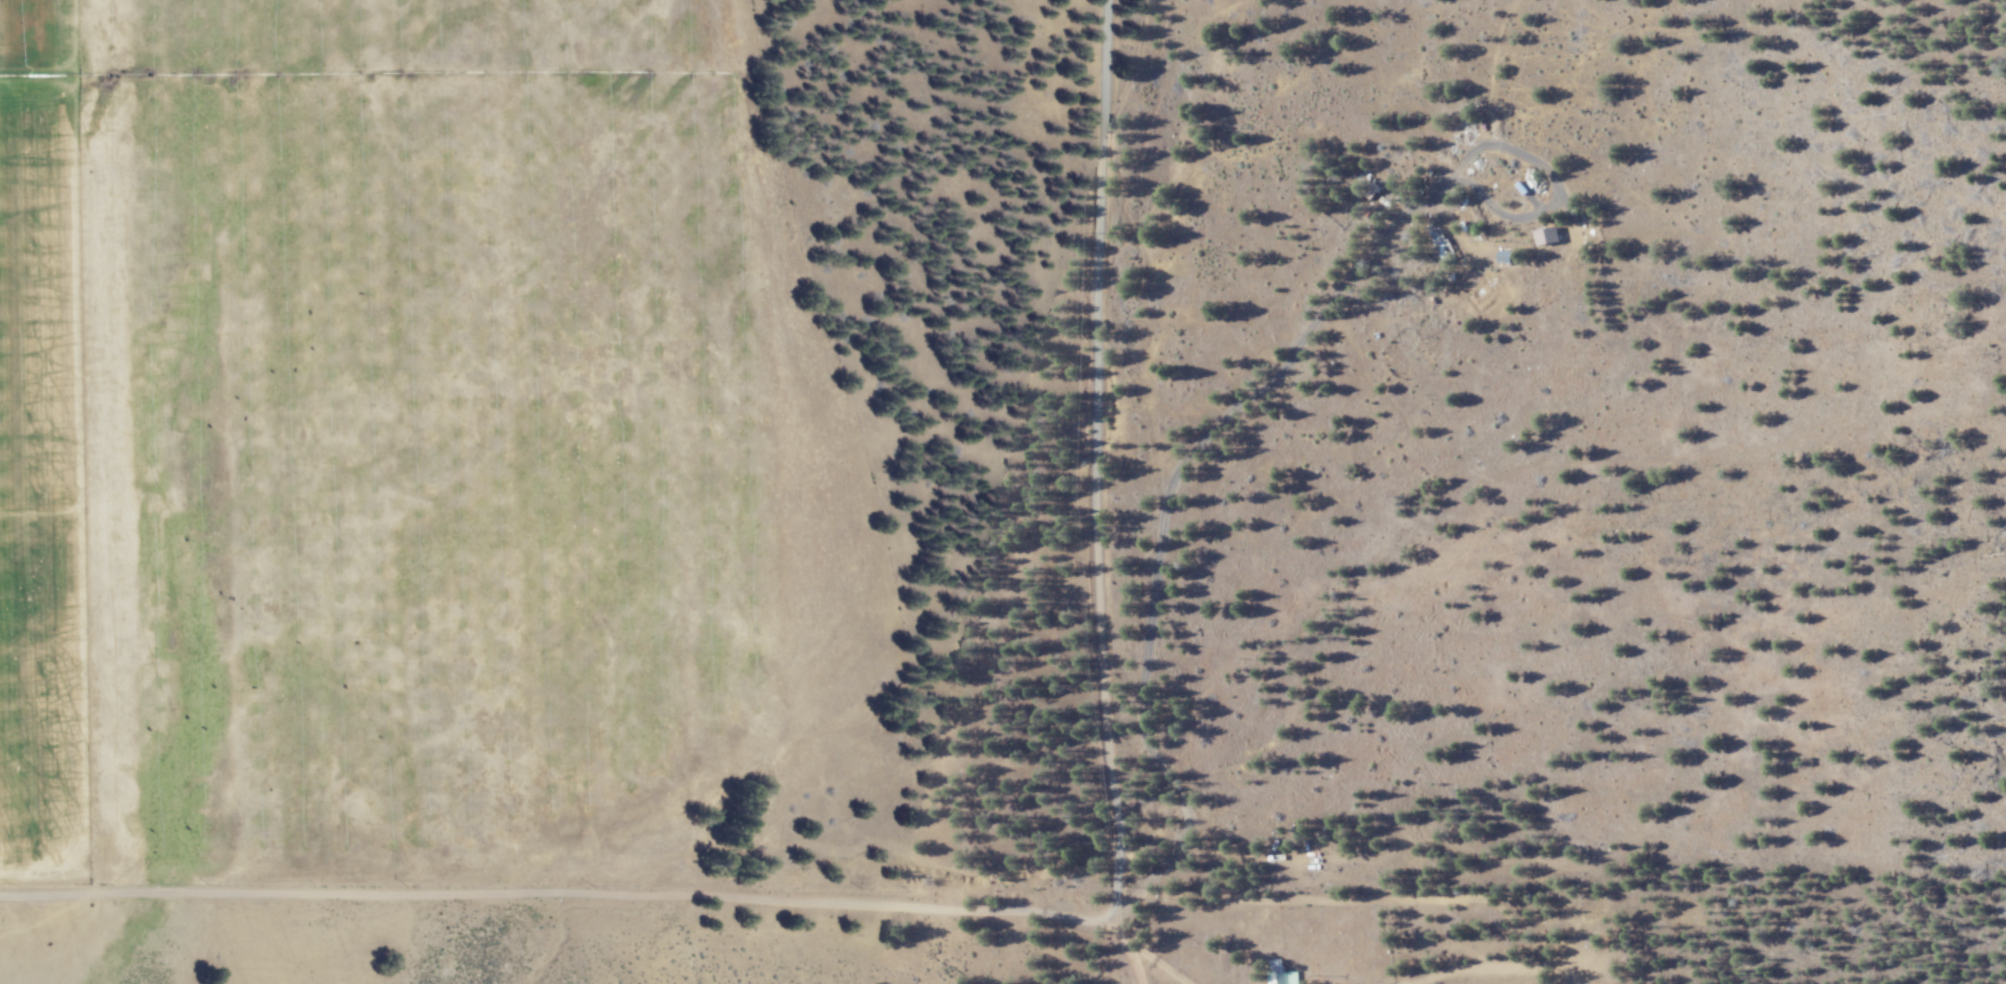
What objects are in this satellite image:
building: (1548, 236)
road: (554, 893)

